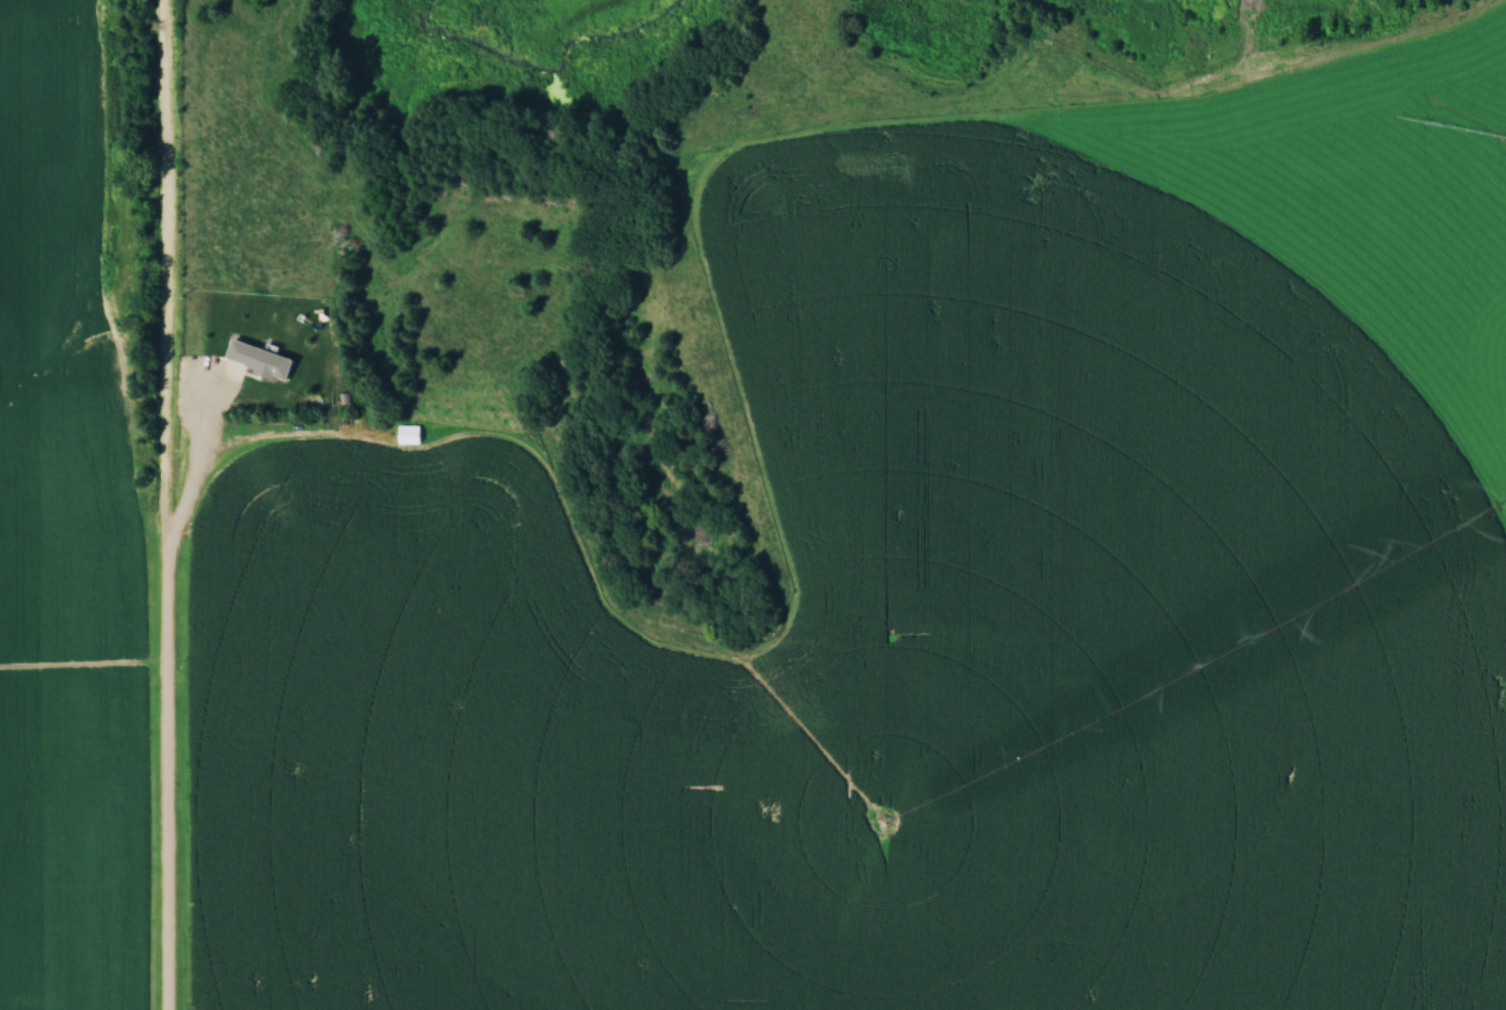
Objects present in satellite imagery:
road: (165, 505)

